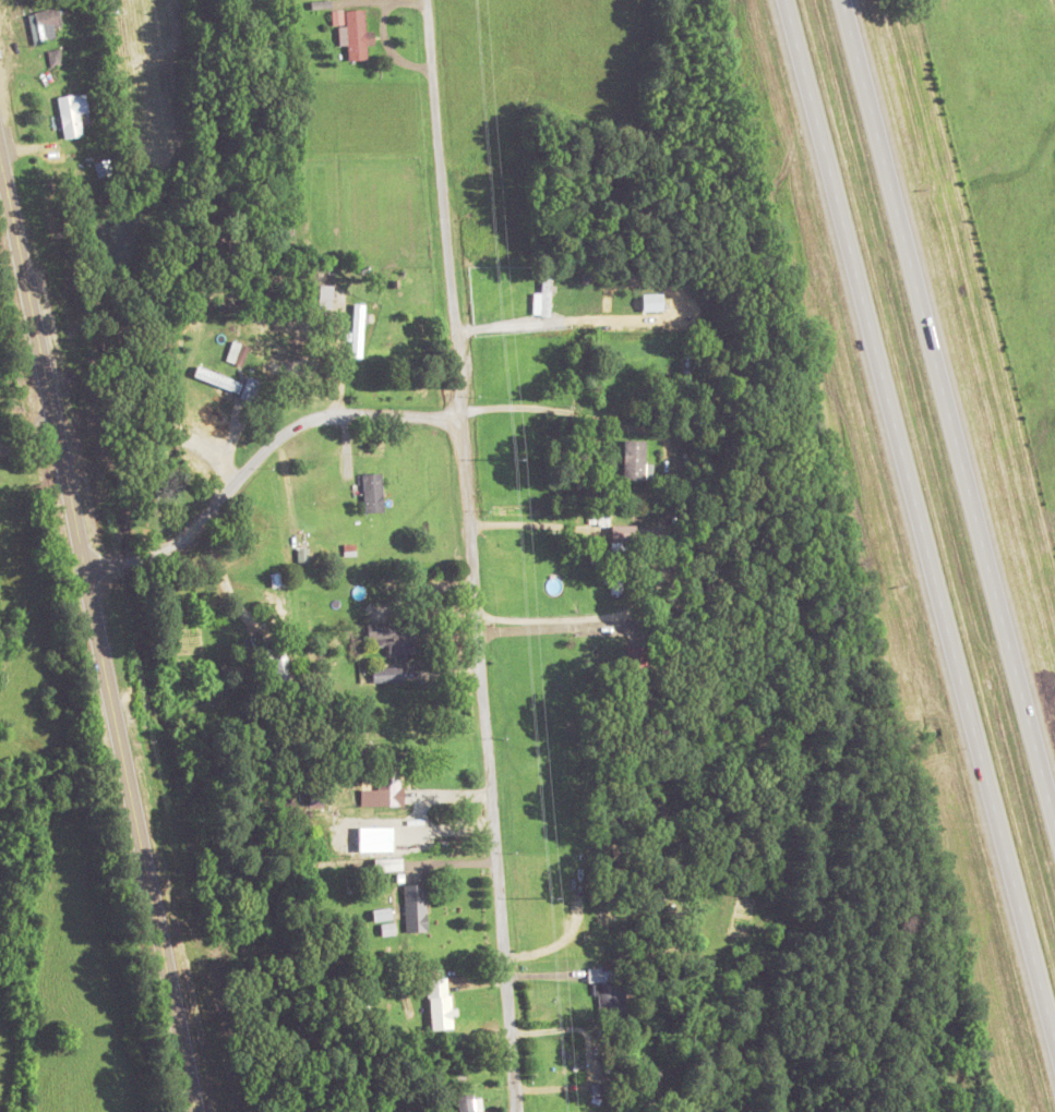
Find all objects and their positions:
building: (45, 23)
building: (352, 31)
building: (55, 56)
building: (72, 113)
road: (441, 210)
building: (543, 294)
building: (325, 295)
building: (357, 328)
building: (688, 352)
building: (213, 376)
building: (251, 388)
road: (945, 426)
road: (656, 432)
power tower: (514, 457)
building: (634, 459)
building: (373, 492)
road: (918, 525)
road: (469, 553)
building: (621, 554)
building: (395, 634)
road: (97, 637)
building: (280, 663)
building: (387, 674)
building: (635, 677)
building: (389, 779)
building: (388, 863)
power tower: (551, 896)
building: (416, 906)
building: (608, 990)
building: (440, 1002)
building: (468, 1102)

